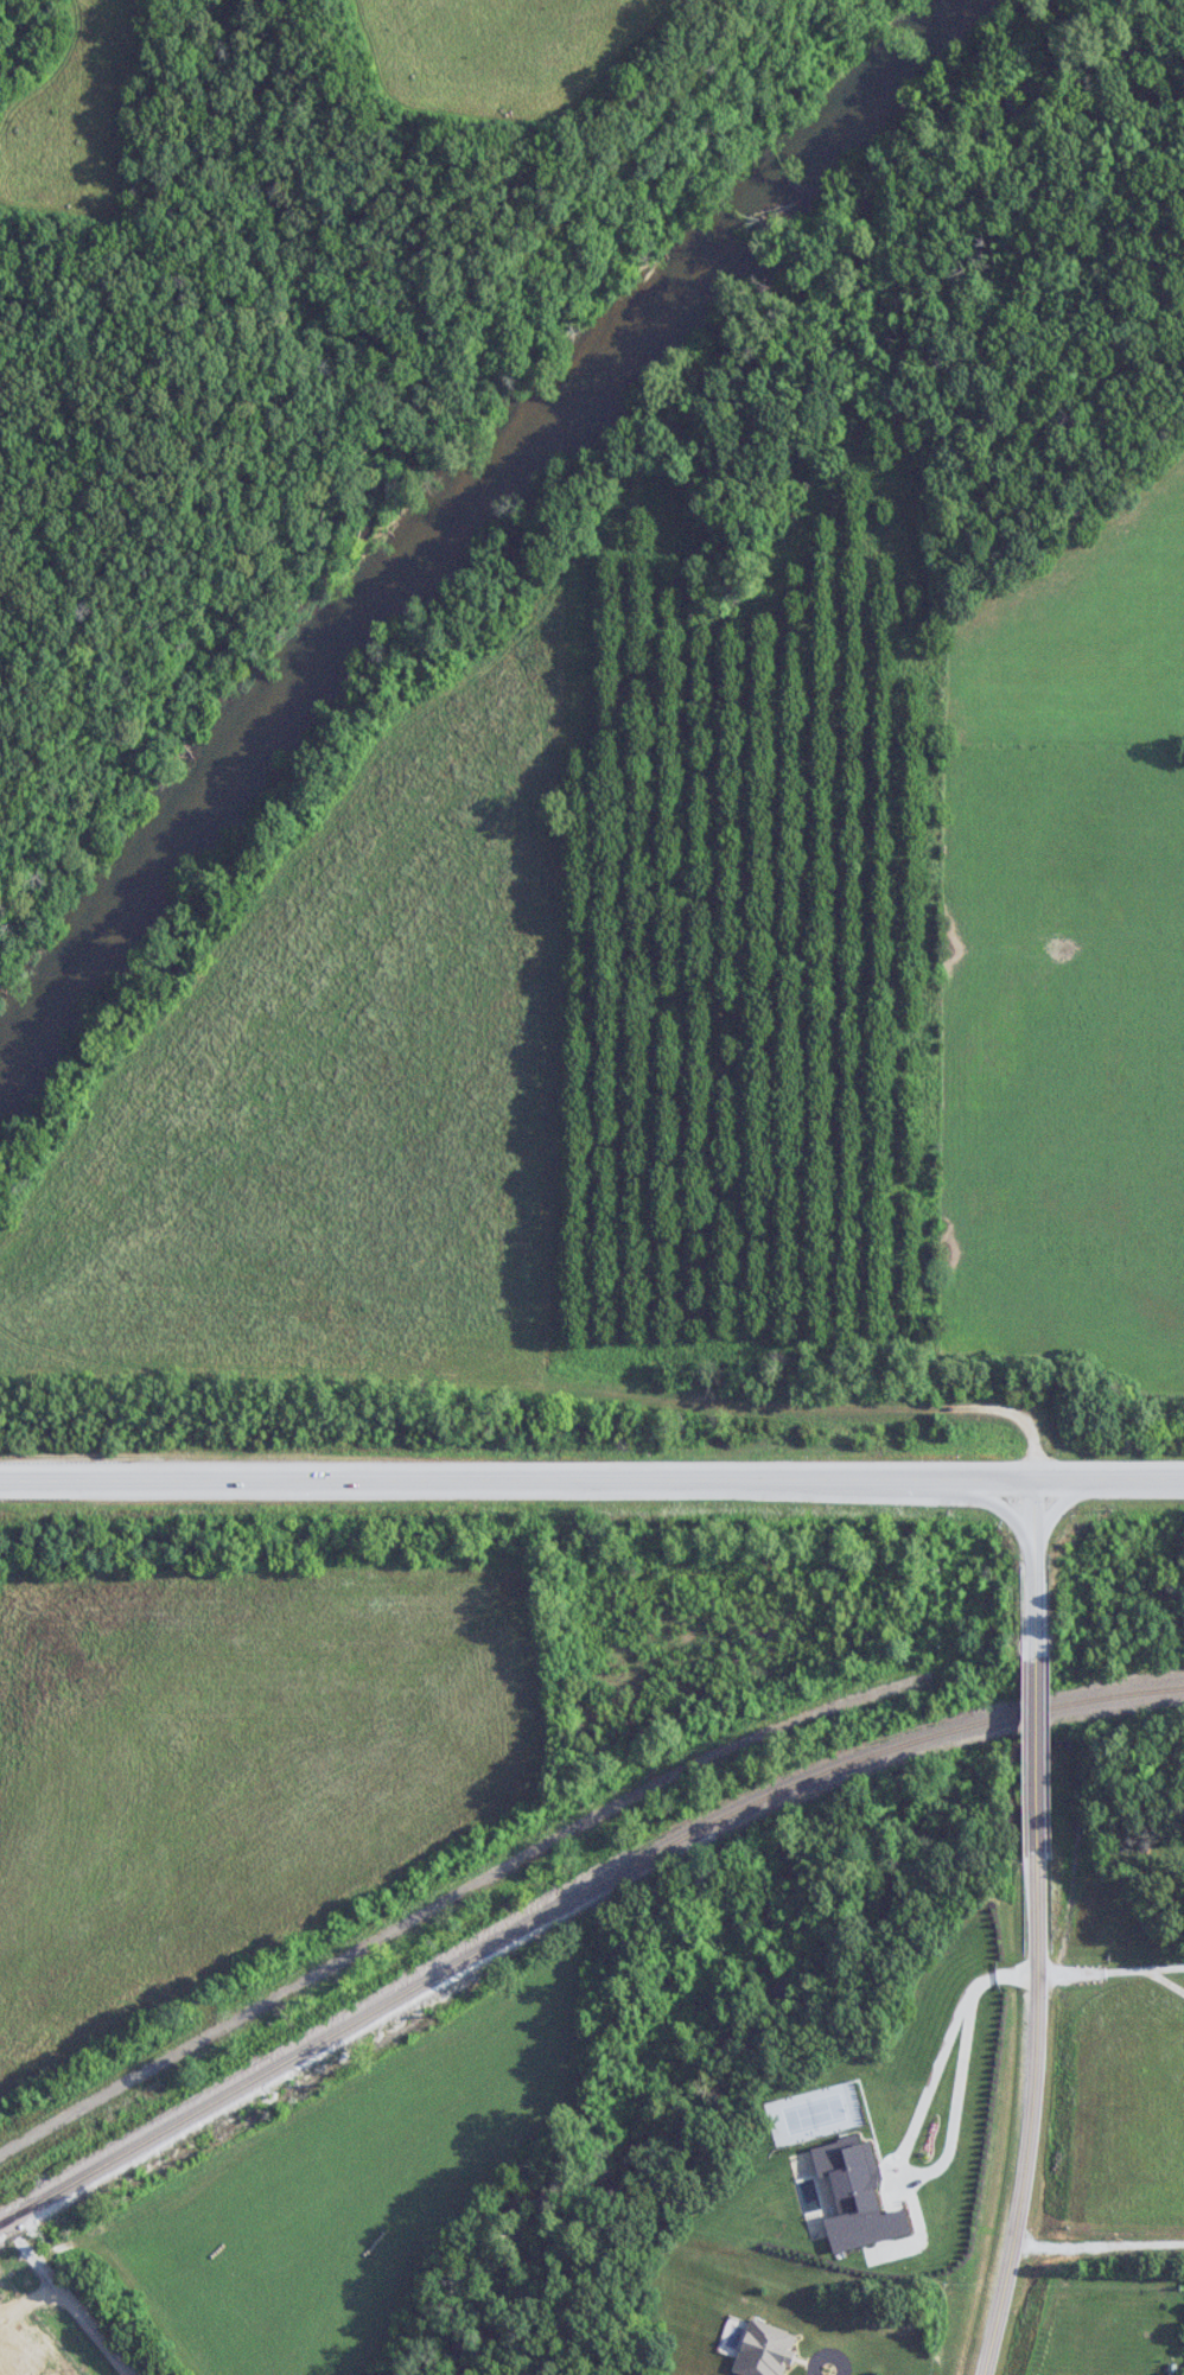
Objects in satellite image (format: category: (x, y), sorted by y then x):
river: (460, 520)
road: (591, 1475)
road: (1038, 1559)
road: (1037, 1753)
road: (459, 1895)
railway: (569, 1899)
road: (1031, 2120)
road: (89, 2307)

